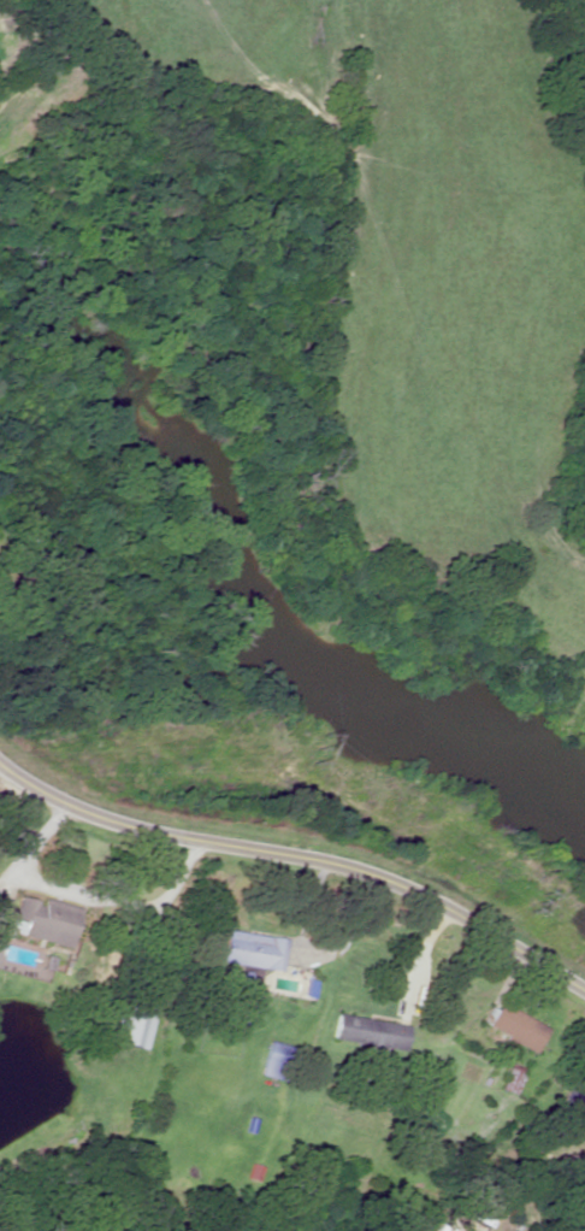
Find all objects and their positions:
road: (295, 865)
building: (1, 914)
building: (41, 920)
building: (249, 950)
building: (226, 1021)
building: (512, 1026)
building: (366, 1031)
building: (272, 1060)
building: (509, 1076)
building: (571, 1105)
building: (469, 1229)

